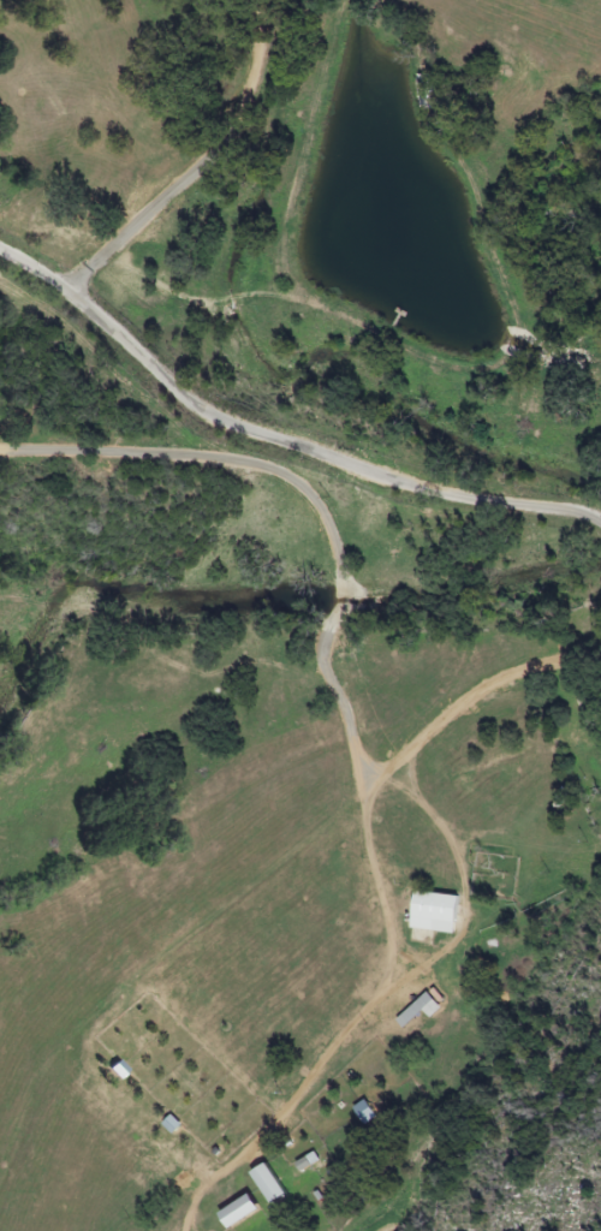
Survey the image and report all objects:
road: (278, 436)
building: (430, 912)
building: (416, 1010)
building: (267, 1182)
building: (237, 1212)

